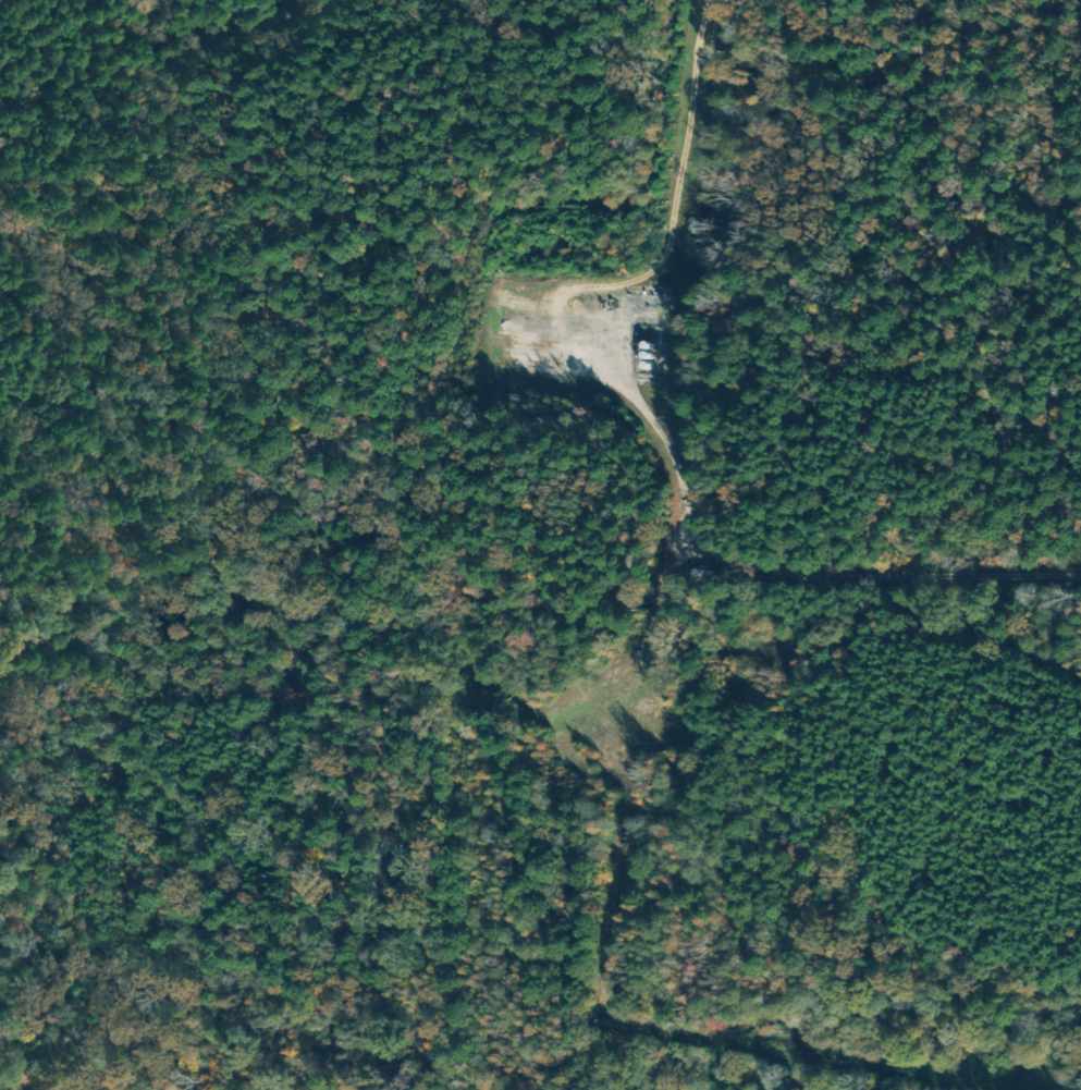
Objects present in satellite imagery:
road: (676, 457)

